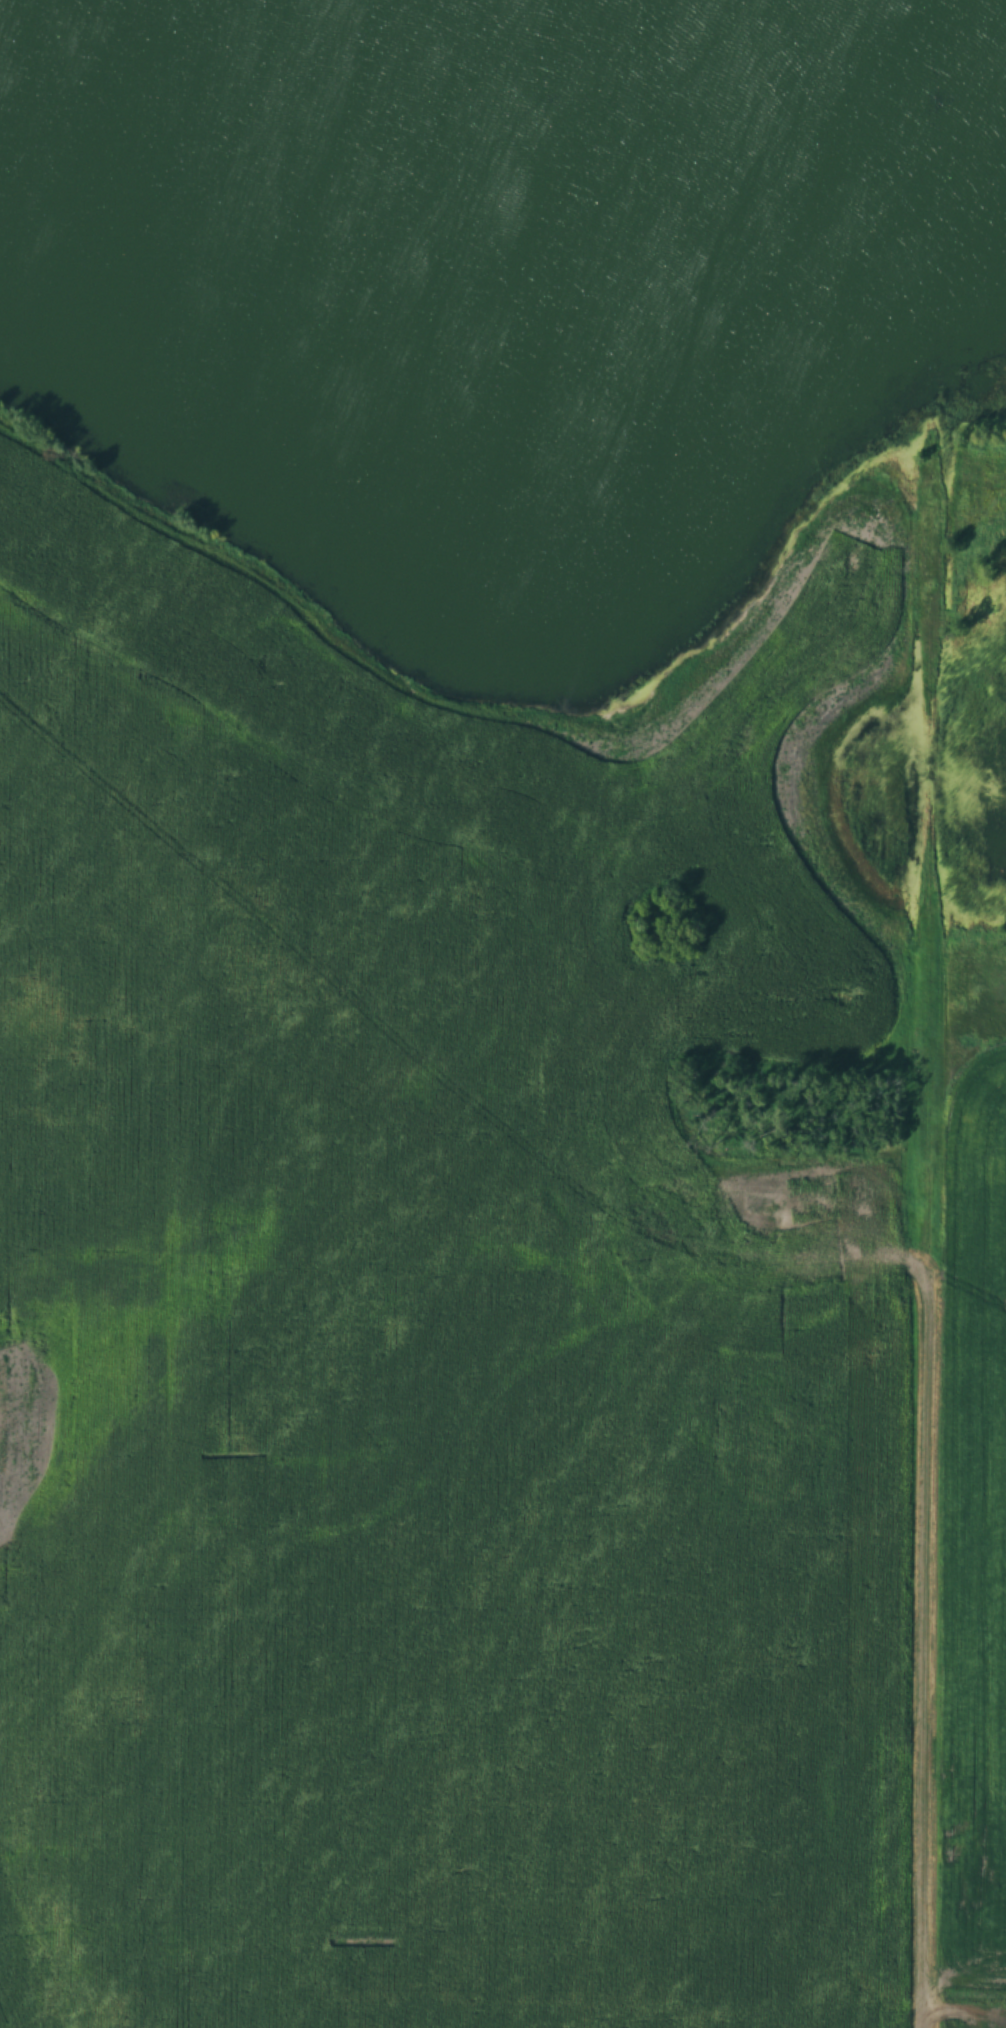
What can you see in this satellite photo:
road: (503, 110)
road: (930, 1070)

